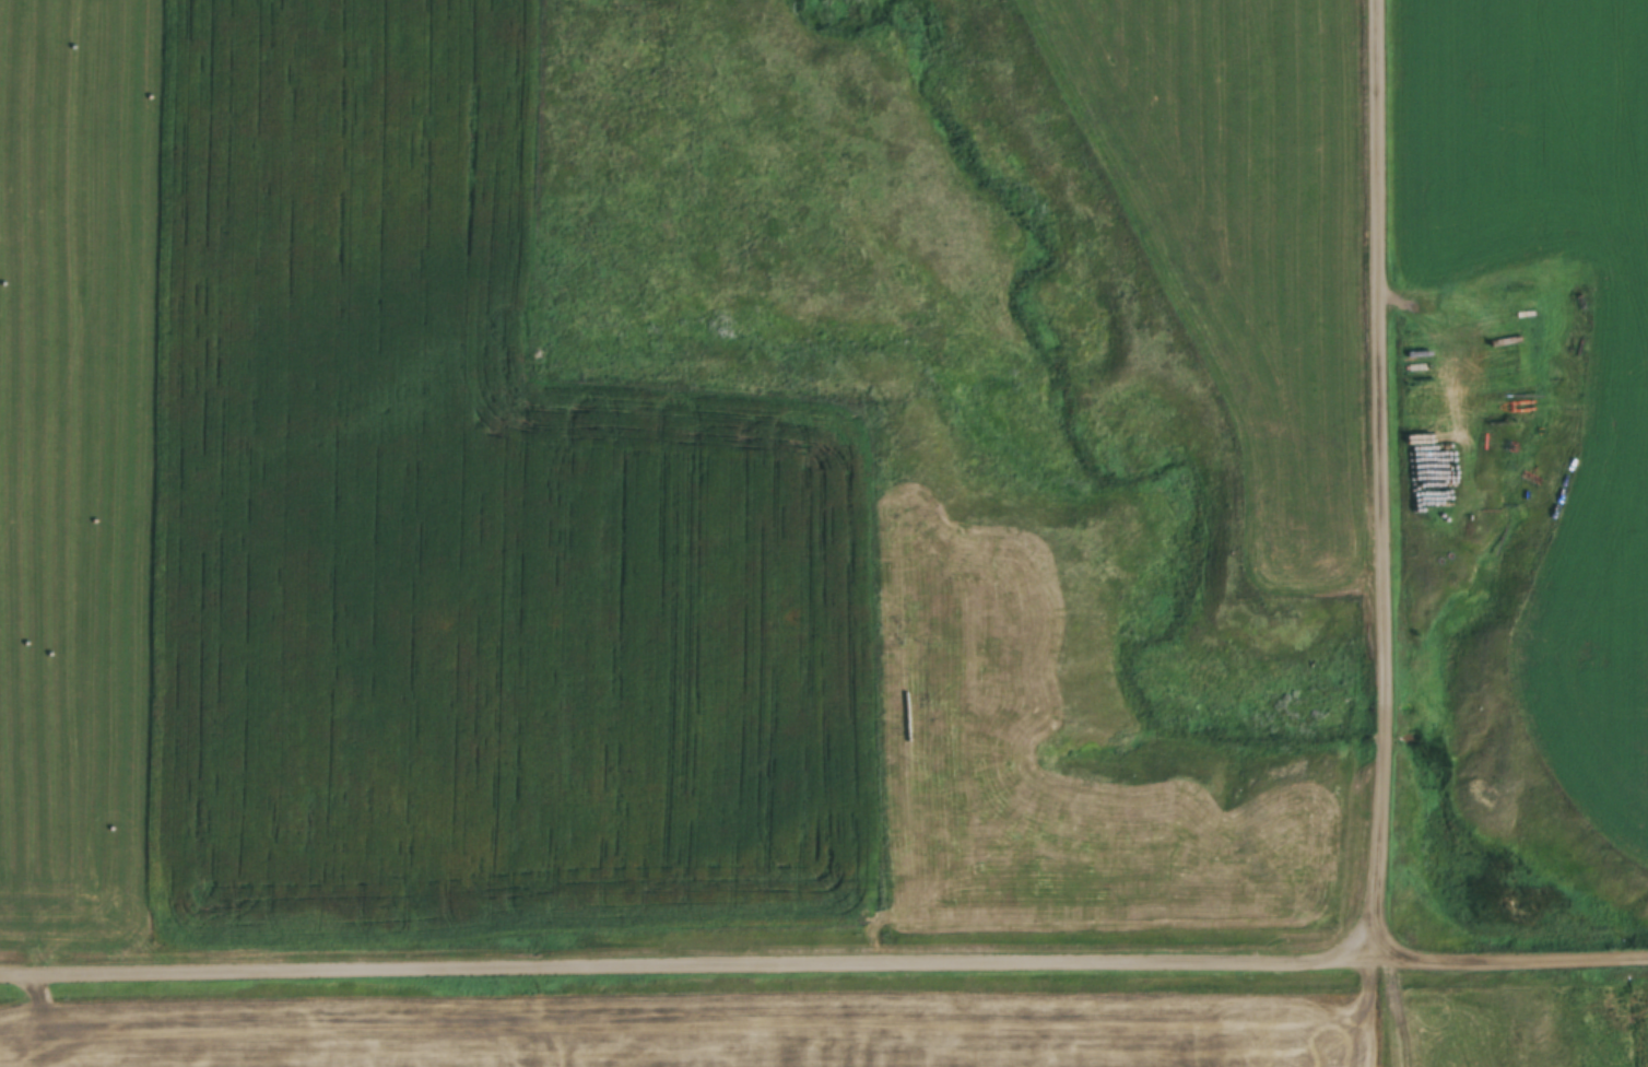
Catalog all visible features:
road: (1386, 275)
road: (1389, 761)
road: (823, 971)

